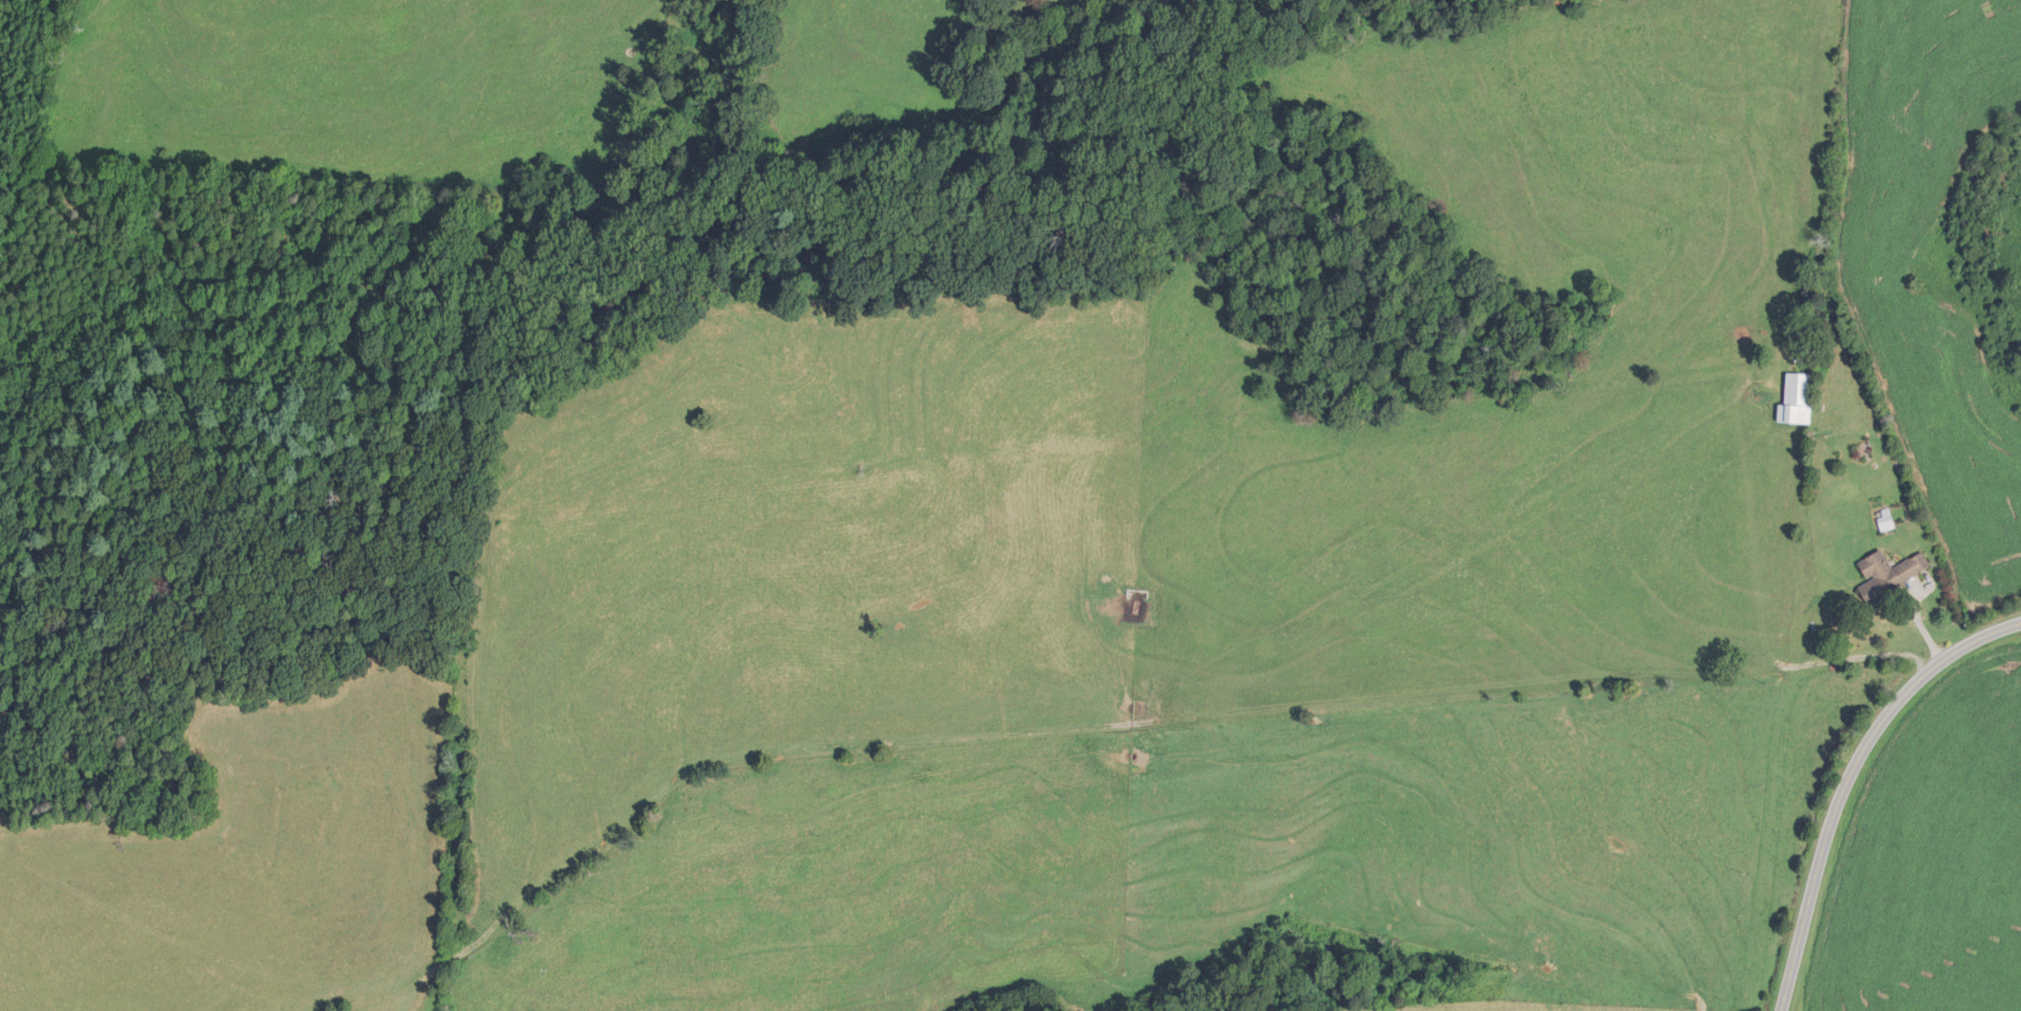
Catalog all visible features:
building: (1885, 519)
building: (1889, 574)
road: (1338, 699)
road: (1846, 775)

